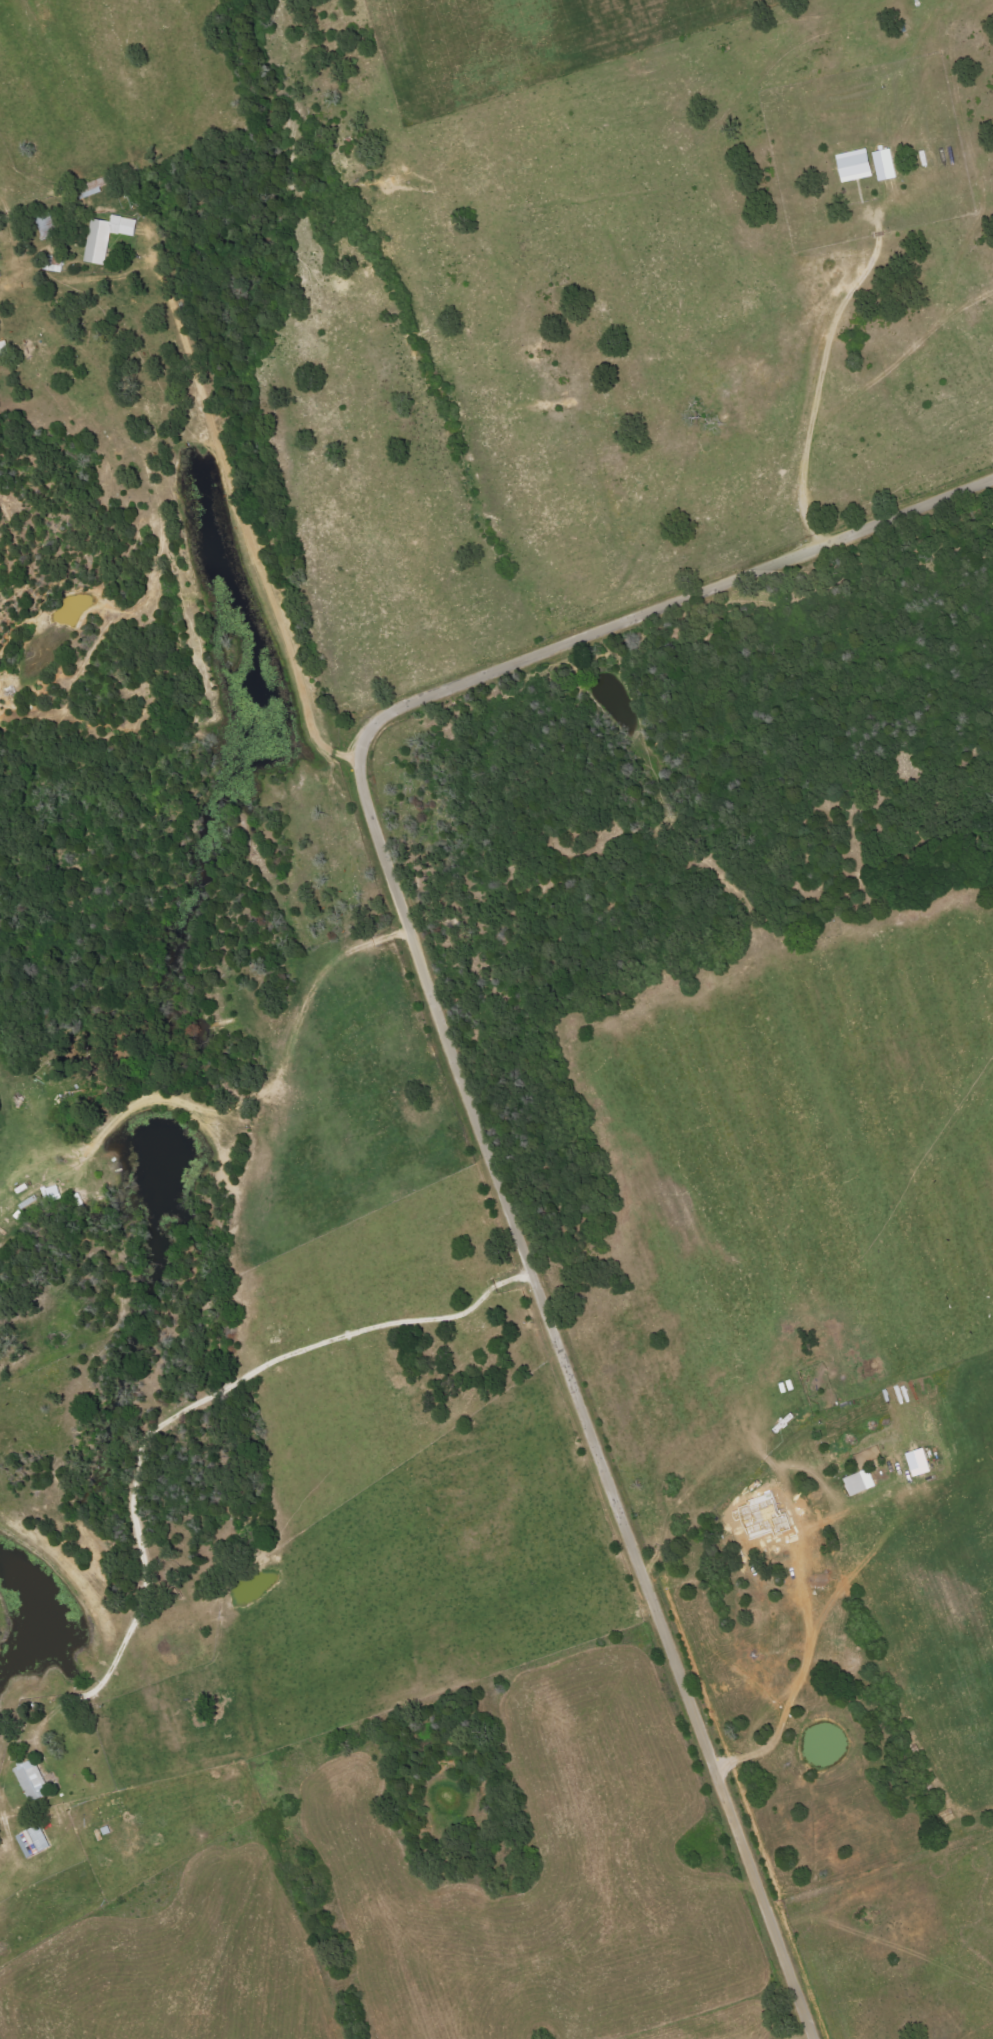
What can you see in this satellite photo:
building: (886, 163)
building: (856, 164)
building: (107, 235)
road: (111, 373)
road: (814, 398)
road: (234, 501)
road: (659, 606)
road: (343, 758)
road: (228, 1110)
road: (577, 1404)
building: (838, 1454)
road: (320, 1455)
building: (920, 1461)
building: (860, 1482)
building: (33, 1780)
building: (34, 1841)
road: (491, 1919)
road: (188, 1951)

